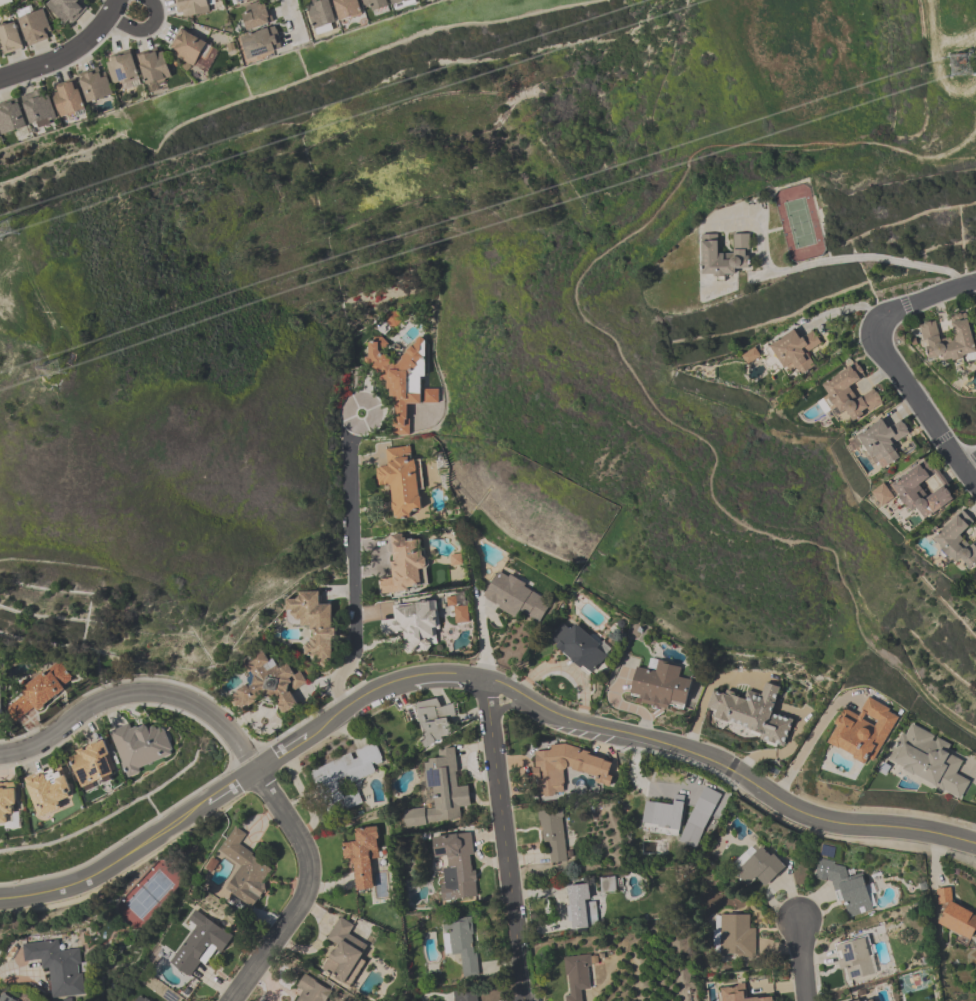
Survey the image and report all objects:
building: (239, 1)
building: (398, 1)
building: (4, 2)
building: (375, 3)
road: (111, 7)
building: (191, 7)
building: (347, 8)
building: (65, 9)
building: (256, 15)
building: (321, 15)
building: (33, 26)
road: (141, 28)
building: (9, 37)
building: (261, 41)
building: (189, 47)
road: (59, 55)
power tower: (948, 60)
building: (153, 65)
building: (121, 67)
building: (94, 84)
building: (67, 97)
building: (37, 105)
building: (10, 116)
power tower: (6, 220)
building: (723, 255)
road: (922, 298)
building: (390, 318)
building: (948, 339)
building: (794, 350)
building: (749, 355)
power tower: (55, 361)
building: (398, 377)
building: (849, 392)
building: (428, 395)
road: (919, 404)
building: (882, 440)
road: (969, 461)
building: (939, 476)
building: (401, 480)
building: (920, 492)
building: (882, 494)
building: (956, 539)
building: (453, 558)
road: (352, 565)
building: (403, 565)
building: (515, 597)
building: (450, 601)
building: (459, 613)
building: (314, 624)
building: (413, 624)
building: (577, 646)
building: (267, 682)
building: (659, 685)
building: (38, 690)
road: (705, 691)
road: (138, 696)
building: (0, 702)
building: (752, 712)
building: (435, 720)
road: (611, 729)
building: (862, 730)
road: (804, 744)
building: (140, 746)
road: (781, 750)
building: (928, 760)
building: (93, 763)
building: (346, 766)
road: (974, 770)
building: (592, 771)
building: (438, 792)
building: (48, 793)
building: (7, 803)
building: (664, 813)
building: (701, 817)
building: (552, 833)
road: (507, 843)
road: (136, 850)
building: (361, 855)
building: (211, 864)
building: (456, 865)
building: (760, 868)
building: (244, 869)
building: (844, 886)
road: (306, 892)
building: (943, 895)
building: (580, 907)
building: (958, 921)
building: (736, 935)
building: (198, 943)
building: (462, 944)
building: (344, 953)
building: (855, 959)
road: (802, 961)
road: (2, 965)
building: (56, 966)
building: (576, 975)
building: (311, 990)
building: (736, 994)
building: (465, 995)
building: (5, 997)
building: (140, 999)
building: (855, 1000)
building: (870, 1000)

